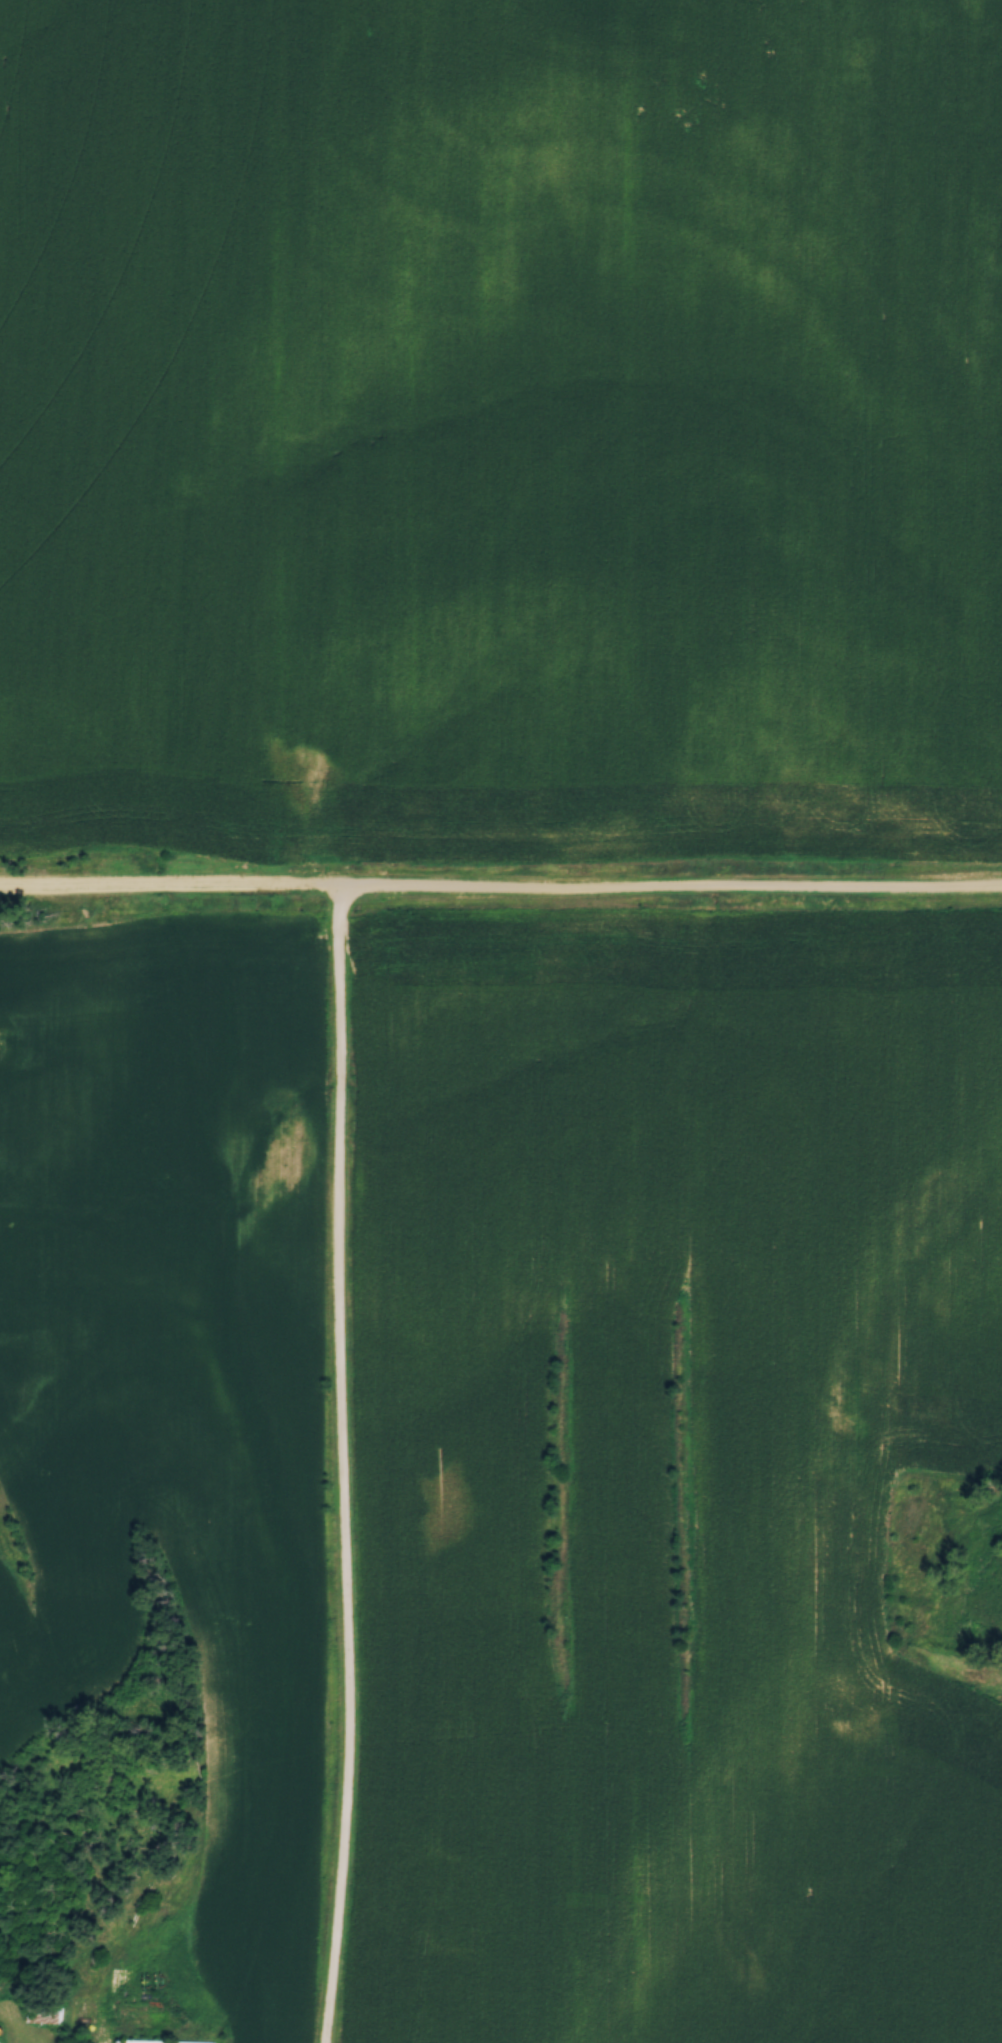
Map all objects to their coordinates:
road: (501, 887)
road: (338, 1464)
building: (170, 2039)
building: (0, 2041)

